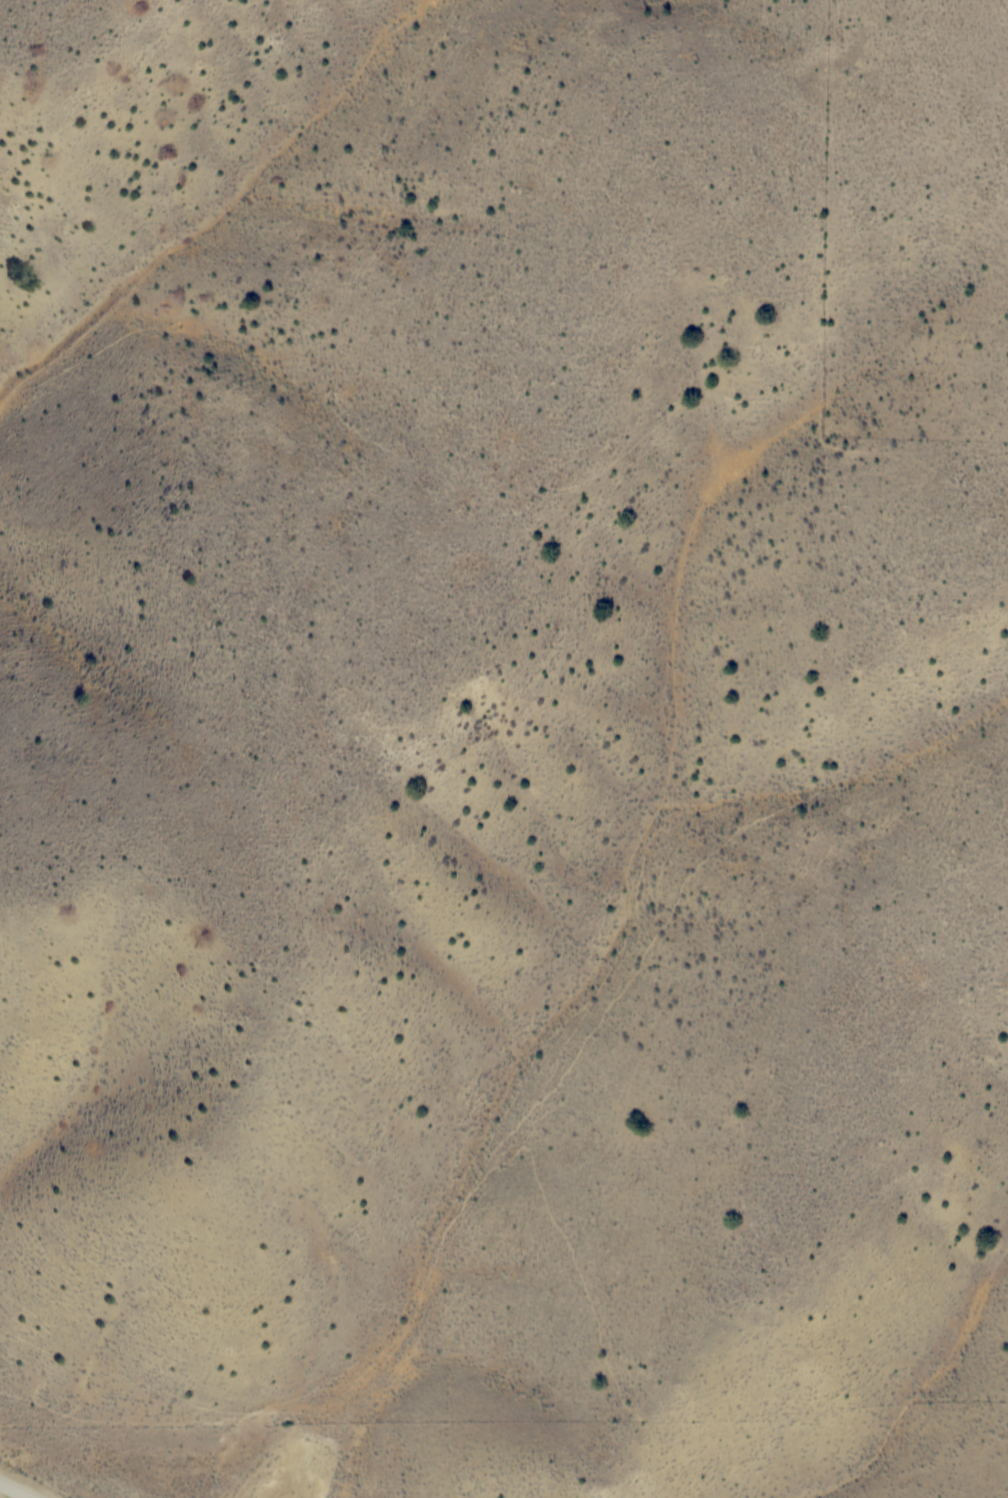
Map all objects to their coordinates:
road: (18, 1488)

